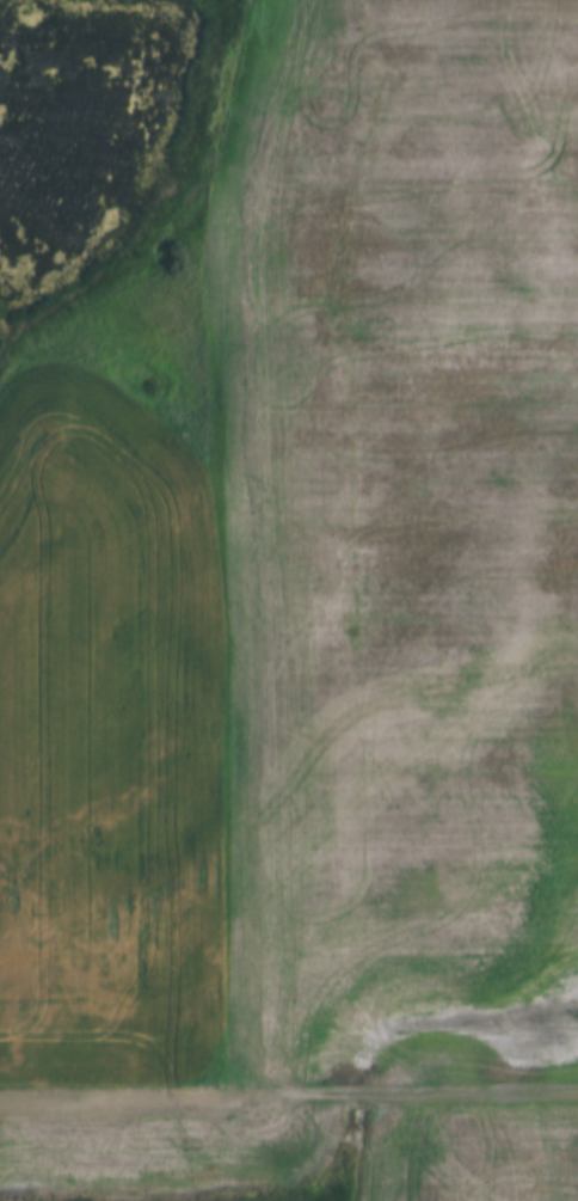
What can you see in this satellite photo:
road: (289, 1089)

